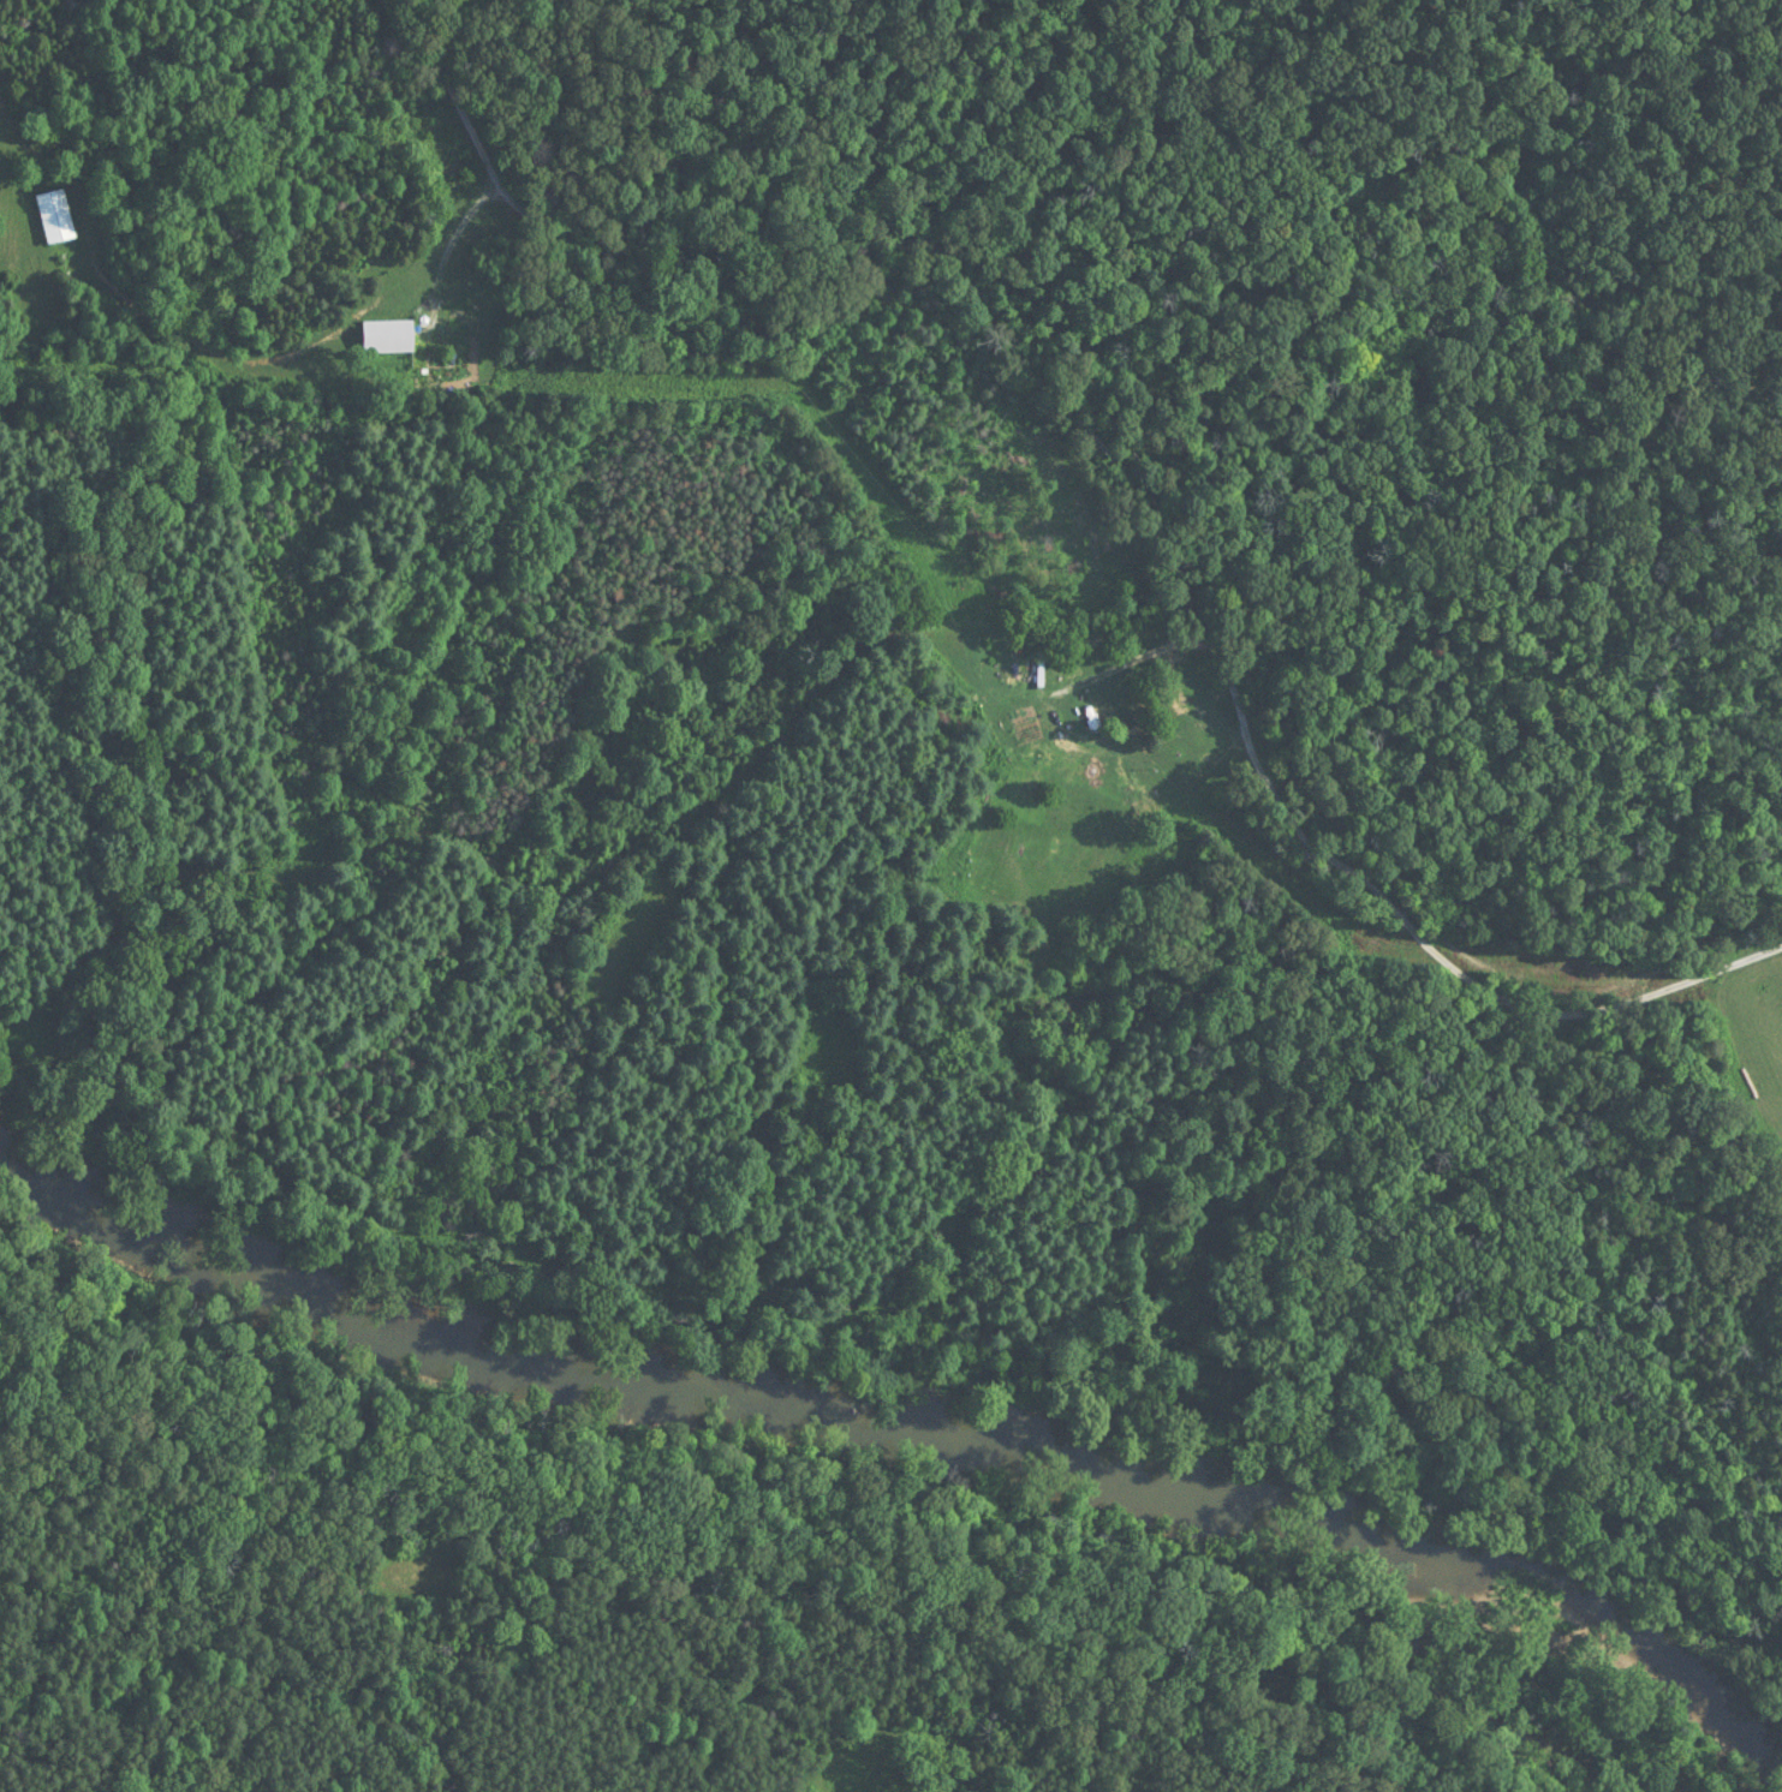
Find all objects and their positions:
building: (53, 219)
building: (387, 339)
road: (1124, 454)
river: (898, 1446)

